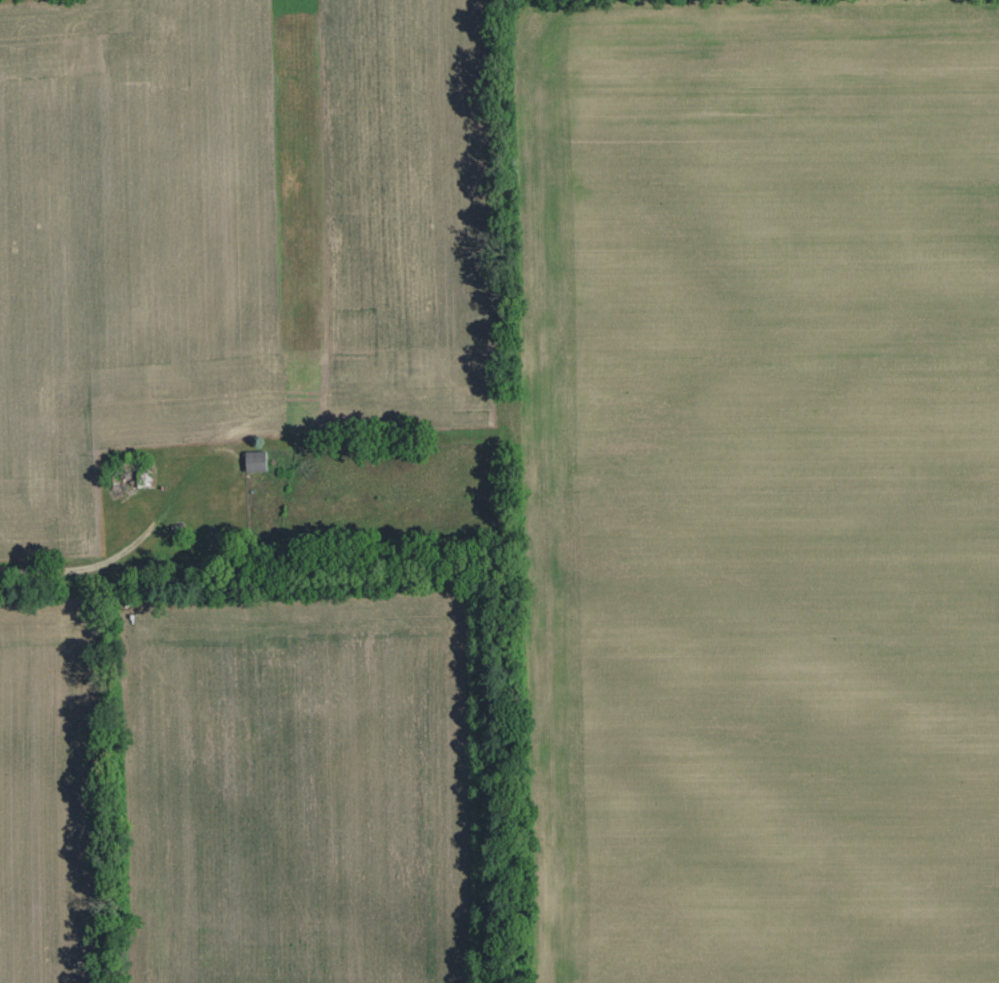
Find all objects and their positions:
building: (256, 461)
road: (204, 492)
road: (40, 570)

